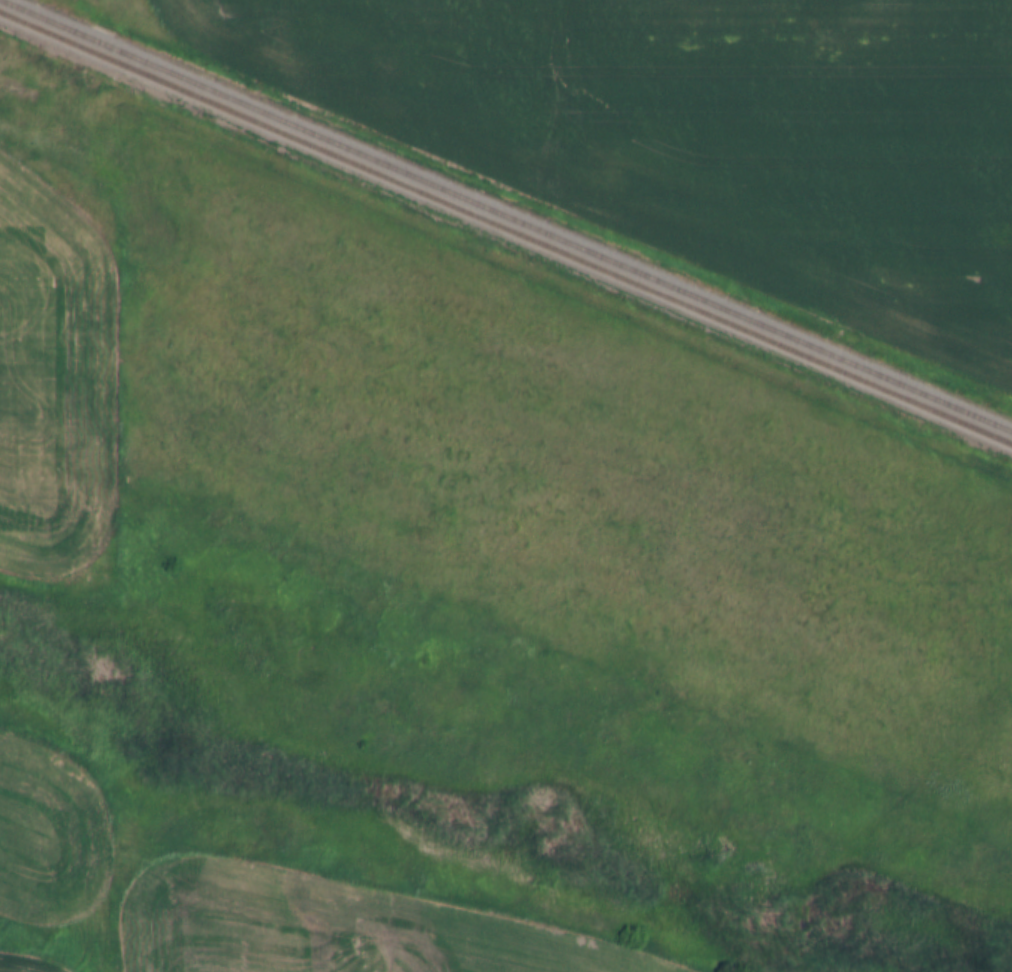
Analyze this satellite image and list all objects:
railway: (506, 217)
railway: (506, 229)

